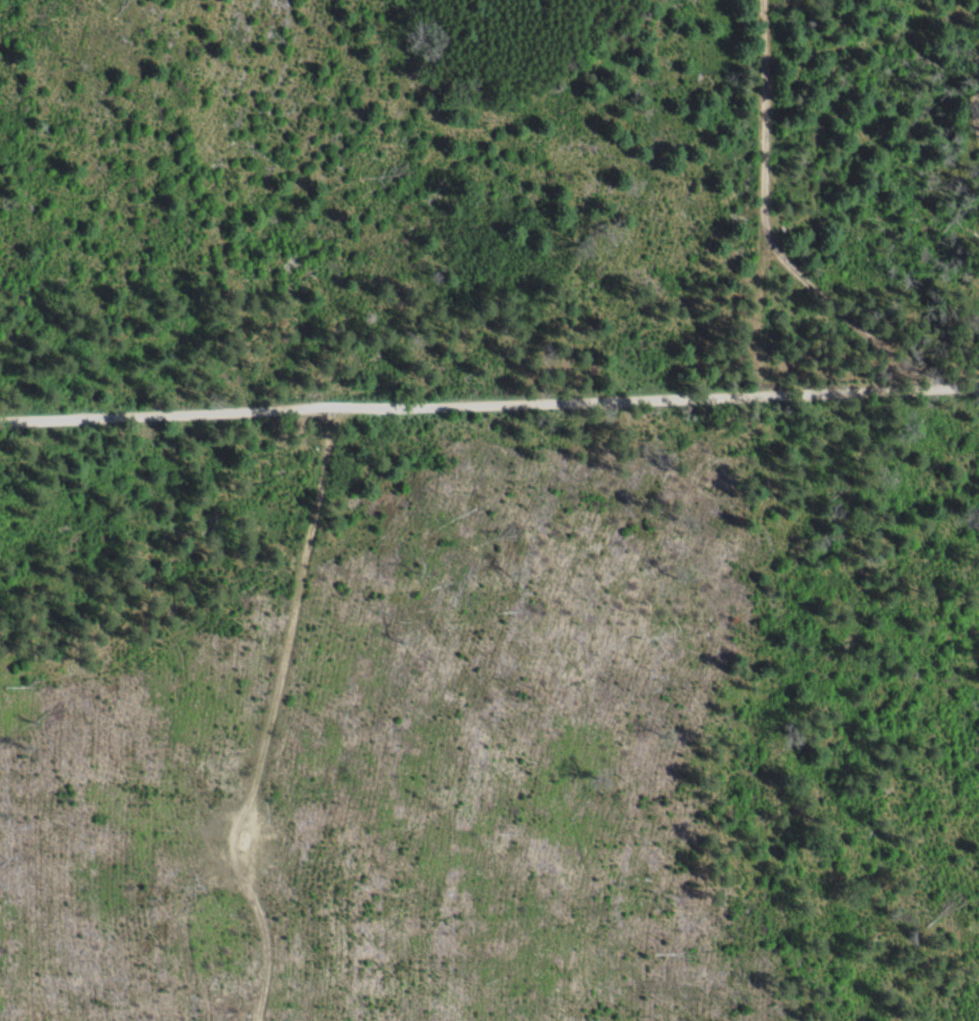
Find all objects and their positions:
road: (945, 151)
road: (767, 196)
road: (489, 402)
road: (221, 715)

